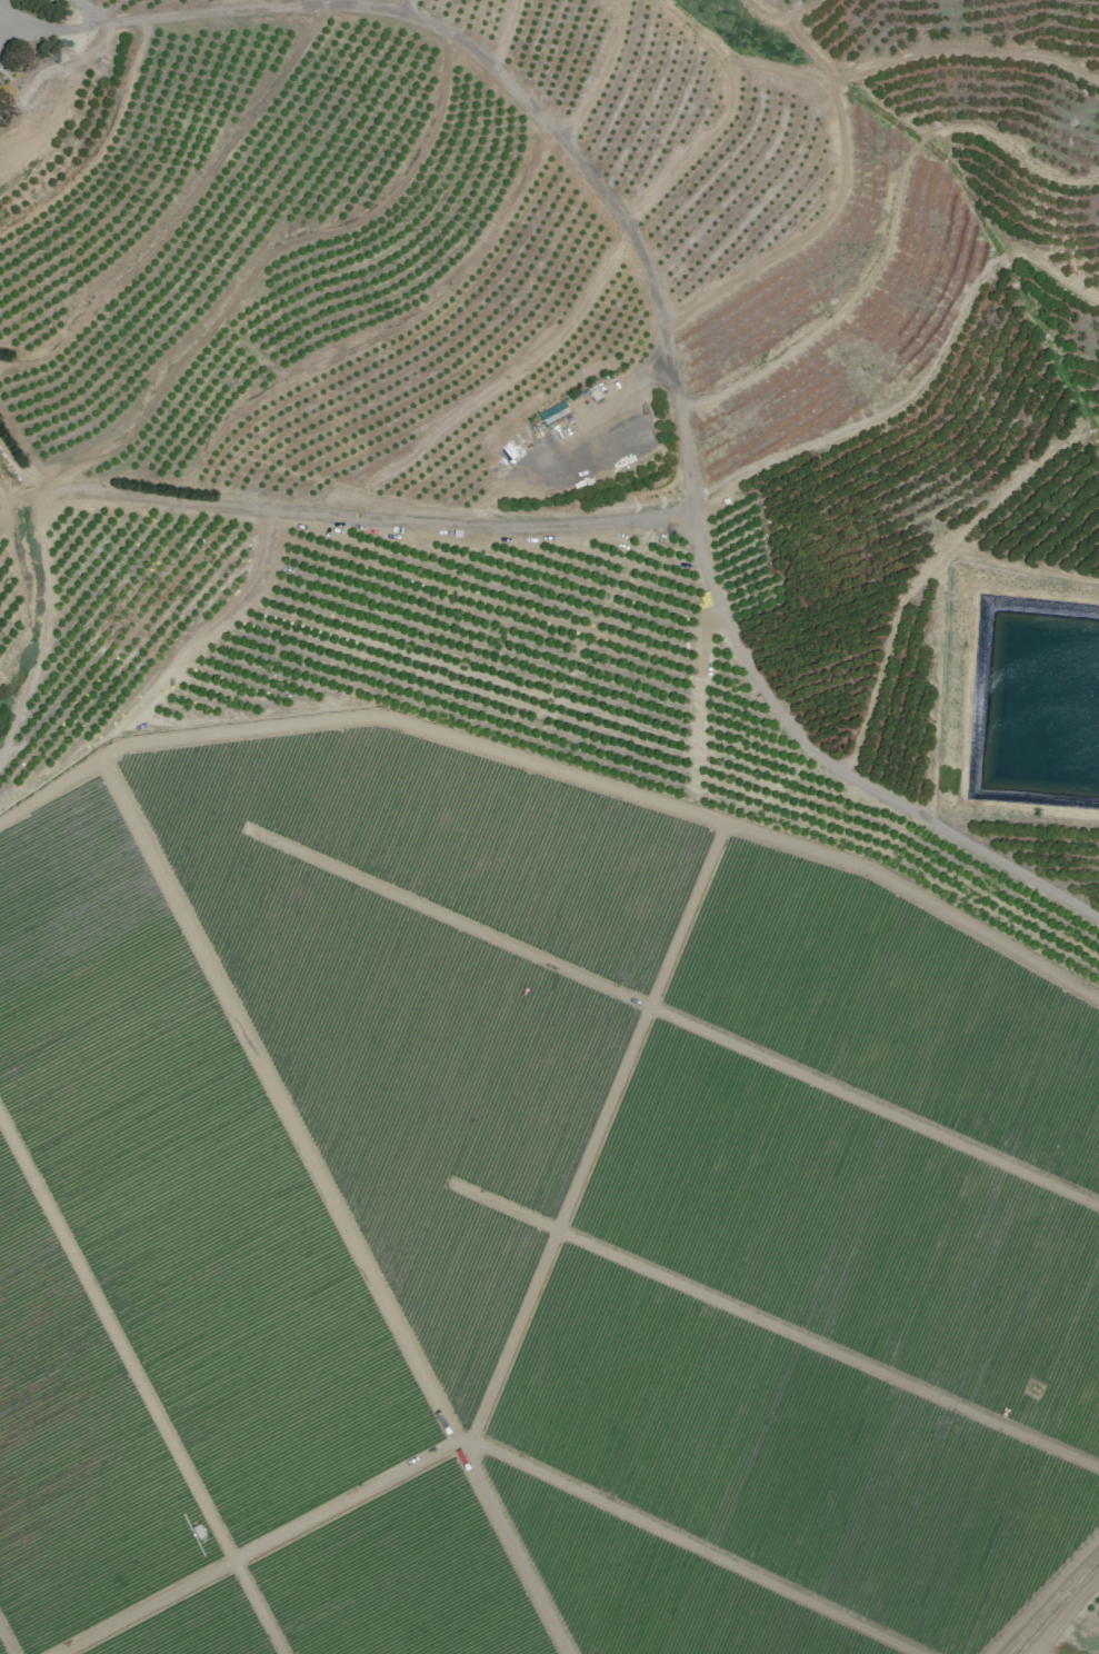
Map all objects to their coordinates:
road: (227, 4)
road: (409, 8)
road: (798, 11)
road: (80, 13)
road: (902, 57)
road: (602, 74)
road: (696, 143)
road: (100, 146)
road: (845, 157)
road: (180, 211)
road: (890, 225)
road: (267, 259)
road: (660, 329)
road: (352, 348)
road: (498, 383)
road: (922, 388)
road: (12, 471)
road: (26, 492)
road: (8, 505)
road: (371, 520)
road: (1021, 568)
road: (918, 578)
road: (937, 687)
road: (699, 699)
road: (558, 769)
crop: (426, 986)
crop: (893, 1006)
road: (673, 1017)
road: (596, 1132)
crop: (184, 1180)
road: (333, 1204)
crop: (853, 1232)
road: (768, 1322)
road: (141, 1386)
crop: (76, 1451)
crop: (786, 1455)
road: (688, 1544)
road: (256, 1546)
crop: (400, 1577)
crop: (651, 1584)
road: (1041, 1593)
road: (1065, 1612)
crop: (192, 1626)
road: (7, 1640)
crop: (1, 1650)

